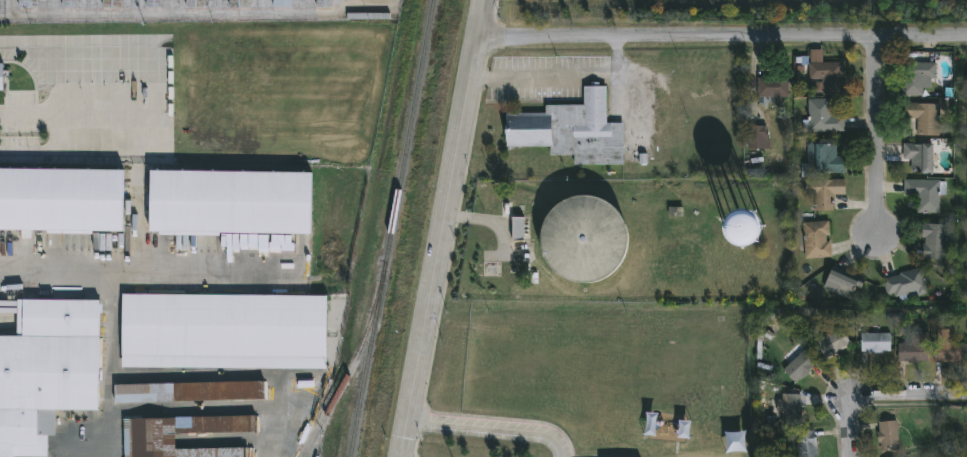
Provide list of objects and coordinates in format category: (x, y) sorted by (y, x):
building: (111, 3)
building: (153, 3)
building: (195, 3)
building: (239, 3)
building: (282, 3)
building: (324, 3)
building: (27, 4)
building: (70, 4)
road: (722, 35)
building: (93, 42)
building: (827, 76)
building: (1, 77)
road: (564, 77)
building: (917, 77)
road: (56, 85)
building: (772, 89)
building: (966, 104)
building: (823, 117)
building: (925, 117)
building: (571, 130)
road: (881, 134)
building: (757, 137)
building: (920, 157)
building: (826, 158)
building: (825, 191)
building: (926, 193)
building: (61, 201)
building: (230, 203)
railway: (392, 228)
road: (444, 228)
building: (517, 229)
building: (751, 233)
building: (817, 239)
building: (584, 240)
building: (935, 241)
road: (146, 260)
building: (843, 283)
building: (907, 285)
building: (223, 332)
building: (877, 342)
building: (834, 343)
building: (949, 346)
building: (915, 348)
building: (800, 366)
railway: (349, 367)
building: (46, 369)
building: (189, 393)
road: (880, 394)
building: (788, 408)
road: (491, 429)
building: (888, 435)
building: (149, 442)
building: (807, 444)

